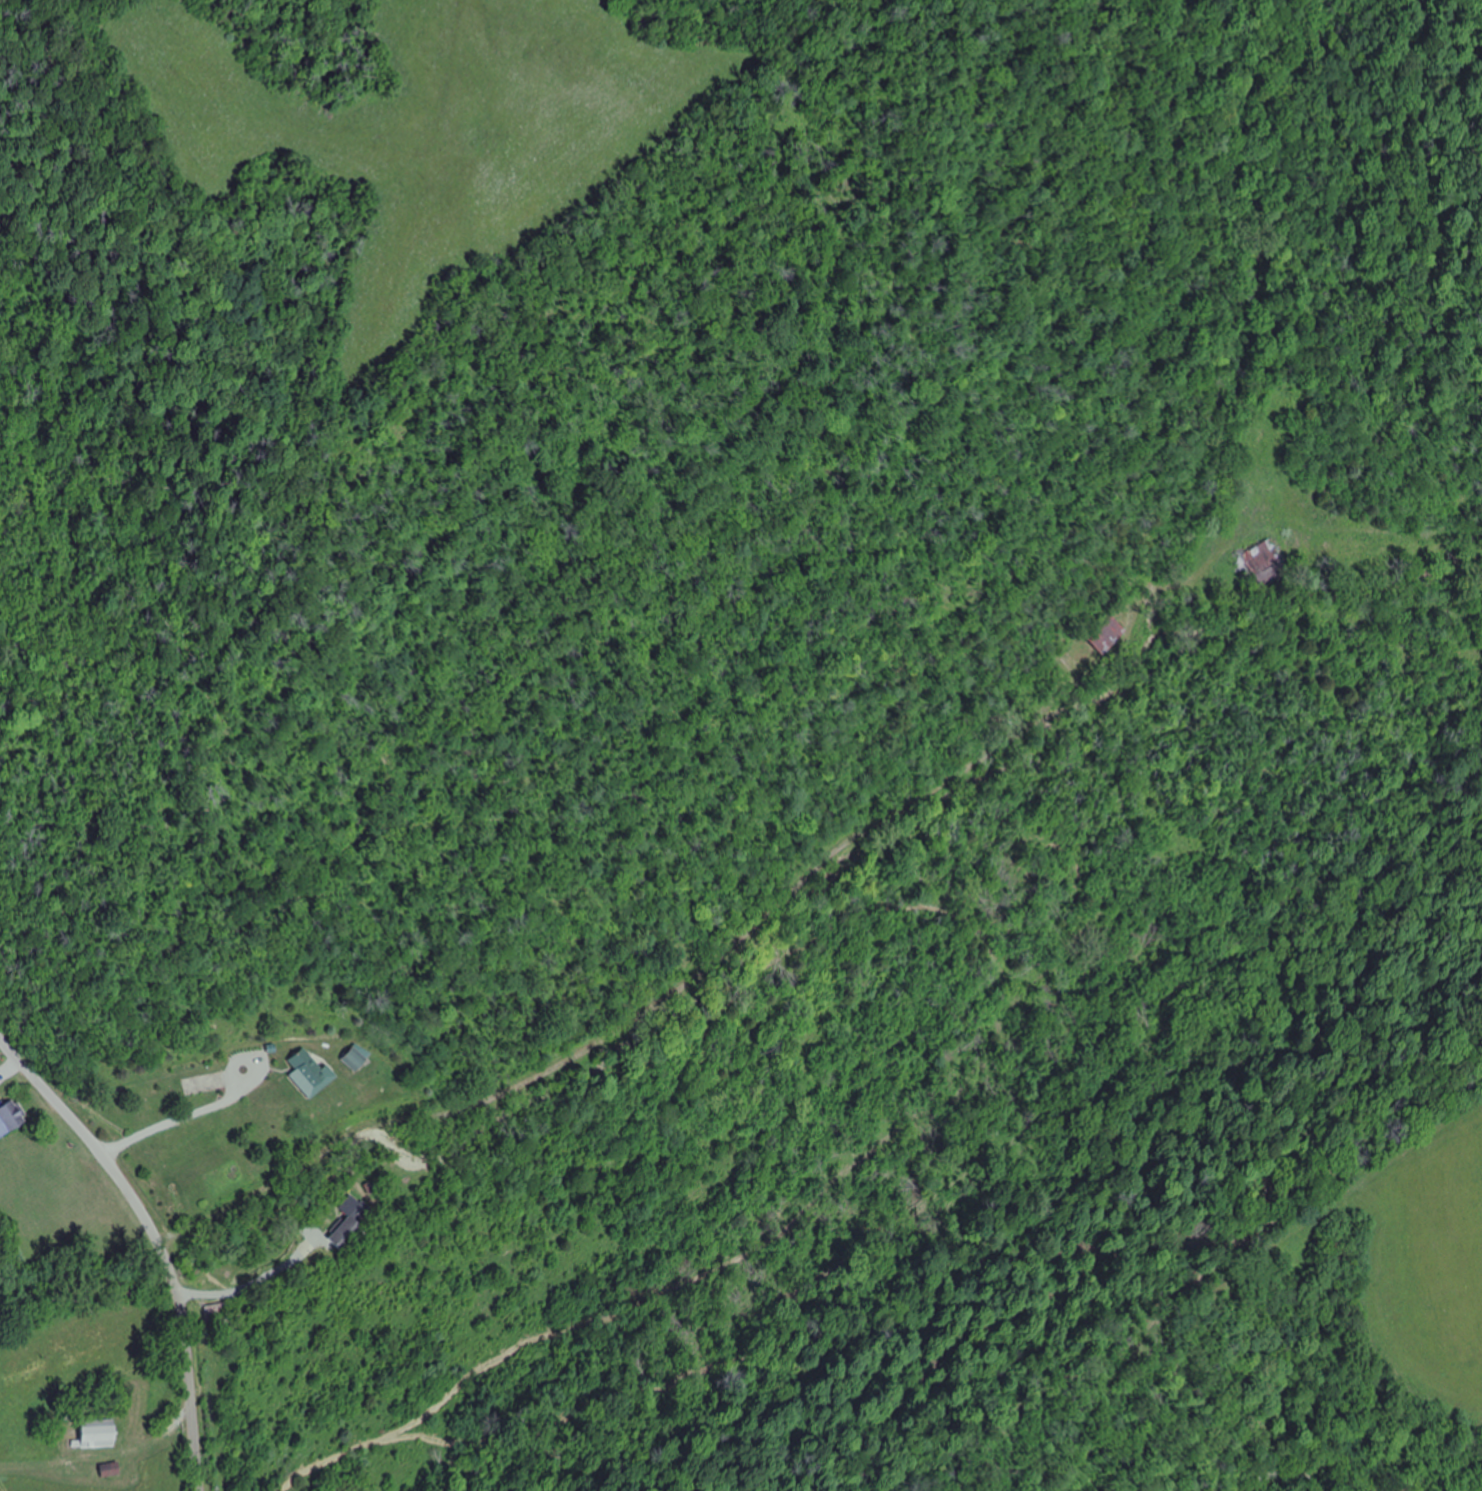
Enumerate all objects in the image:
building: (1259, 565)
building: (1102, 632)
road: (725, 911)
building: (358, 1060)
building: (311, 1074)
building: (12, 1119)
building: (350, 1224)
road: (163, 1233)
building: (221, 1312)
building: (99, 1433)
building: (111, 1470)
road: (1341, 1472)

